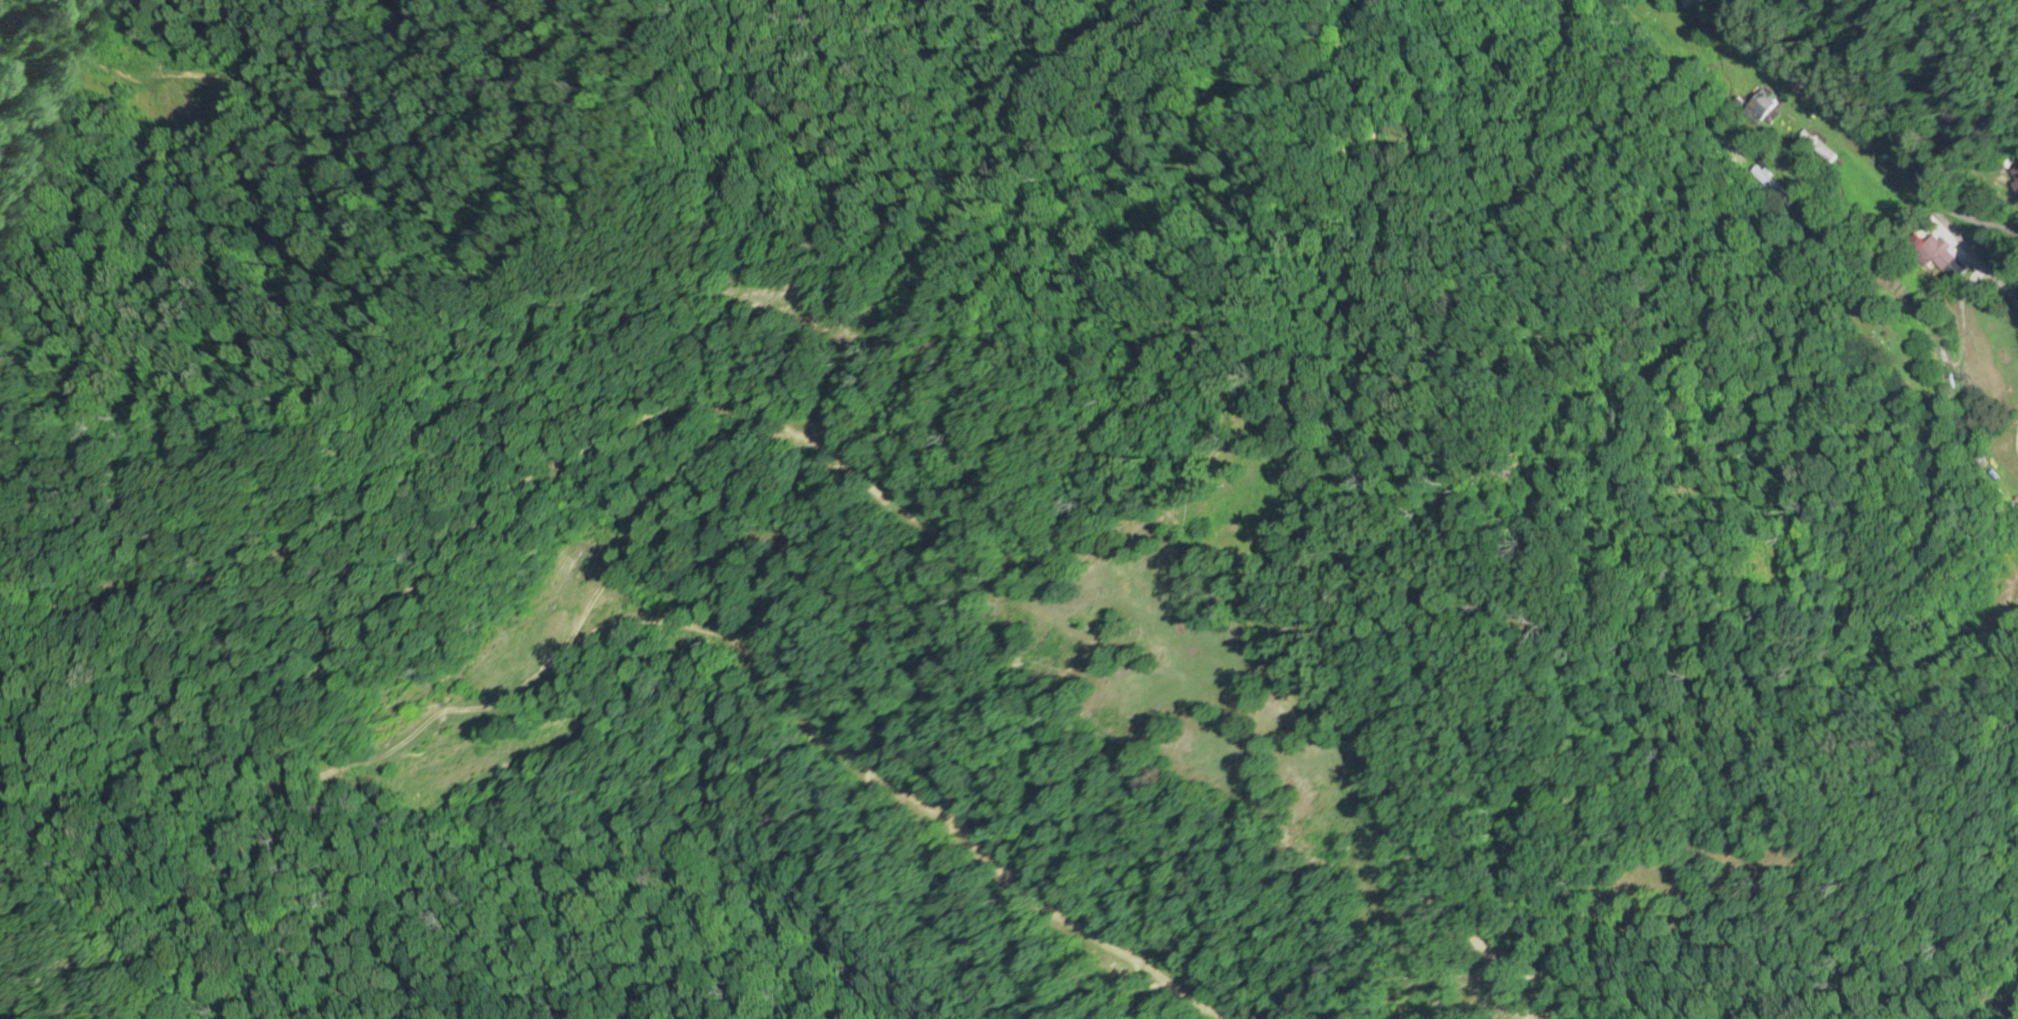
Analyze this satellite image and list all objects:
road: (1859, 143)
building: (1818, 147)
building: (2009, 167)
building: (2017, 173)
building: (1775, 193)
building: (1942, 262)

